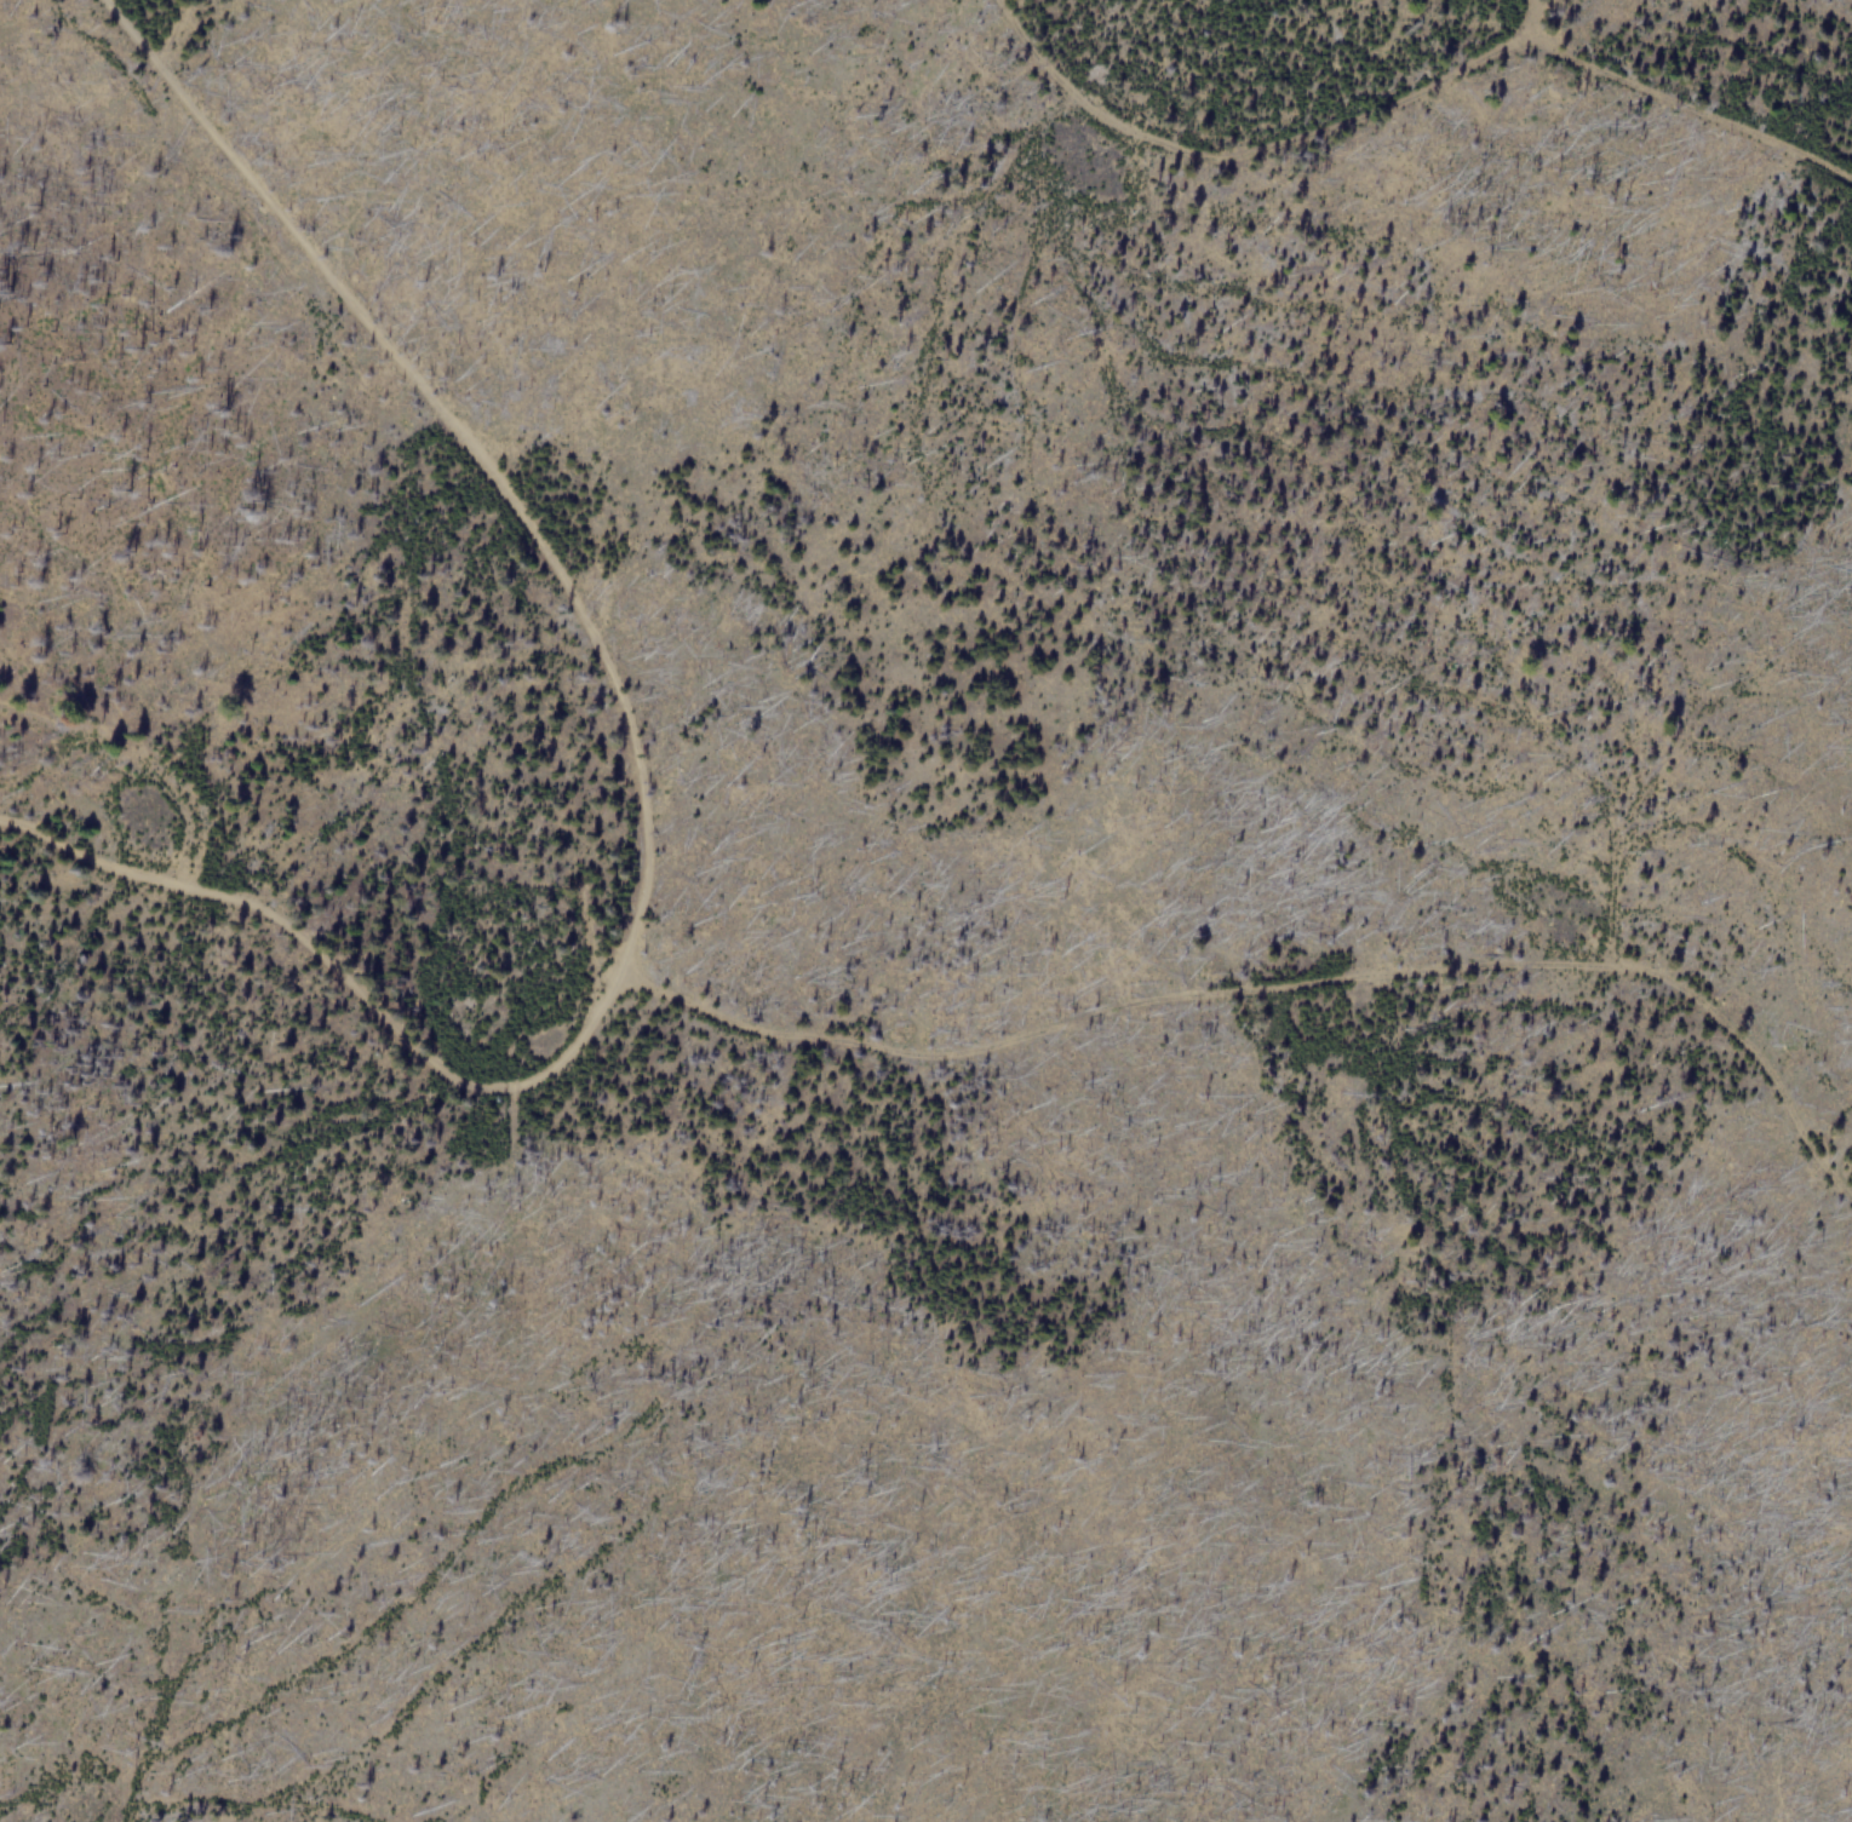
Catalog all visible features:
road: (1527, 21)
road: (1406, 94)
road: (633, 775)
road: (1274, 985)

